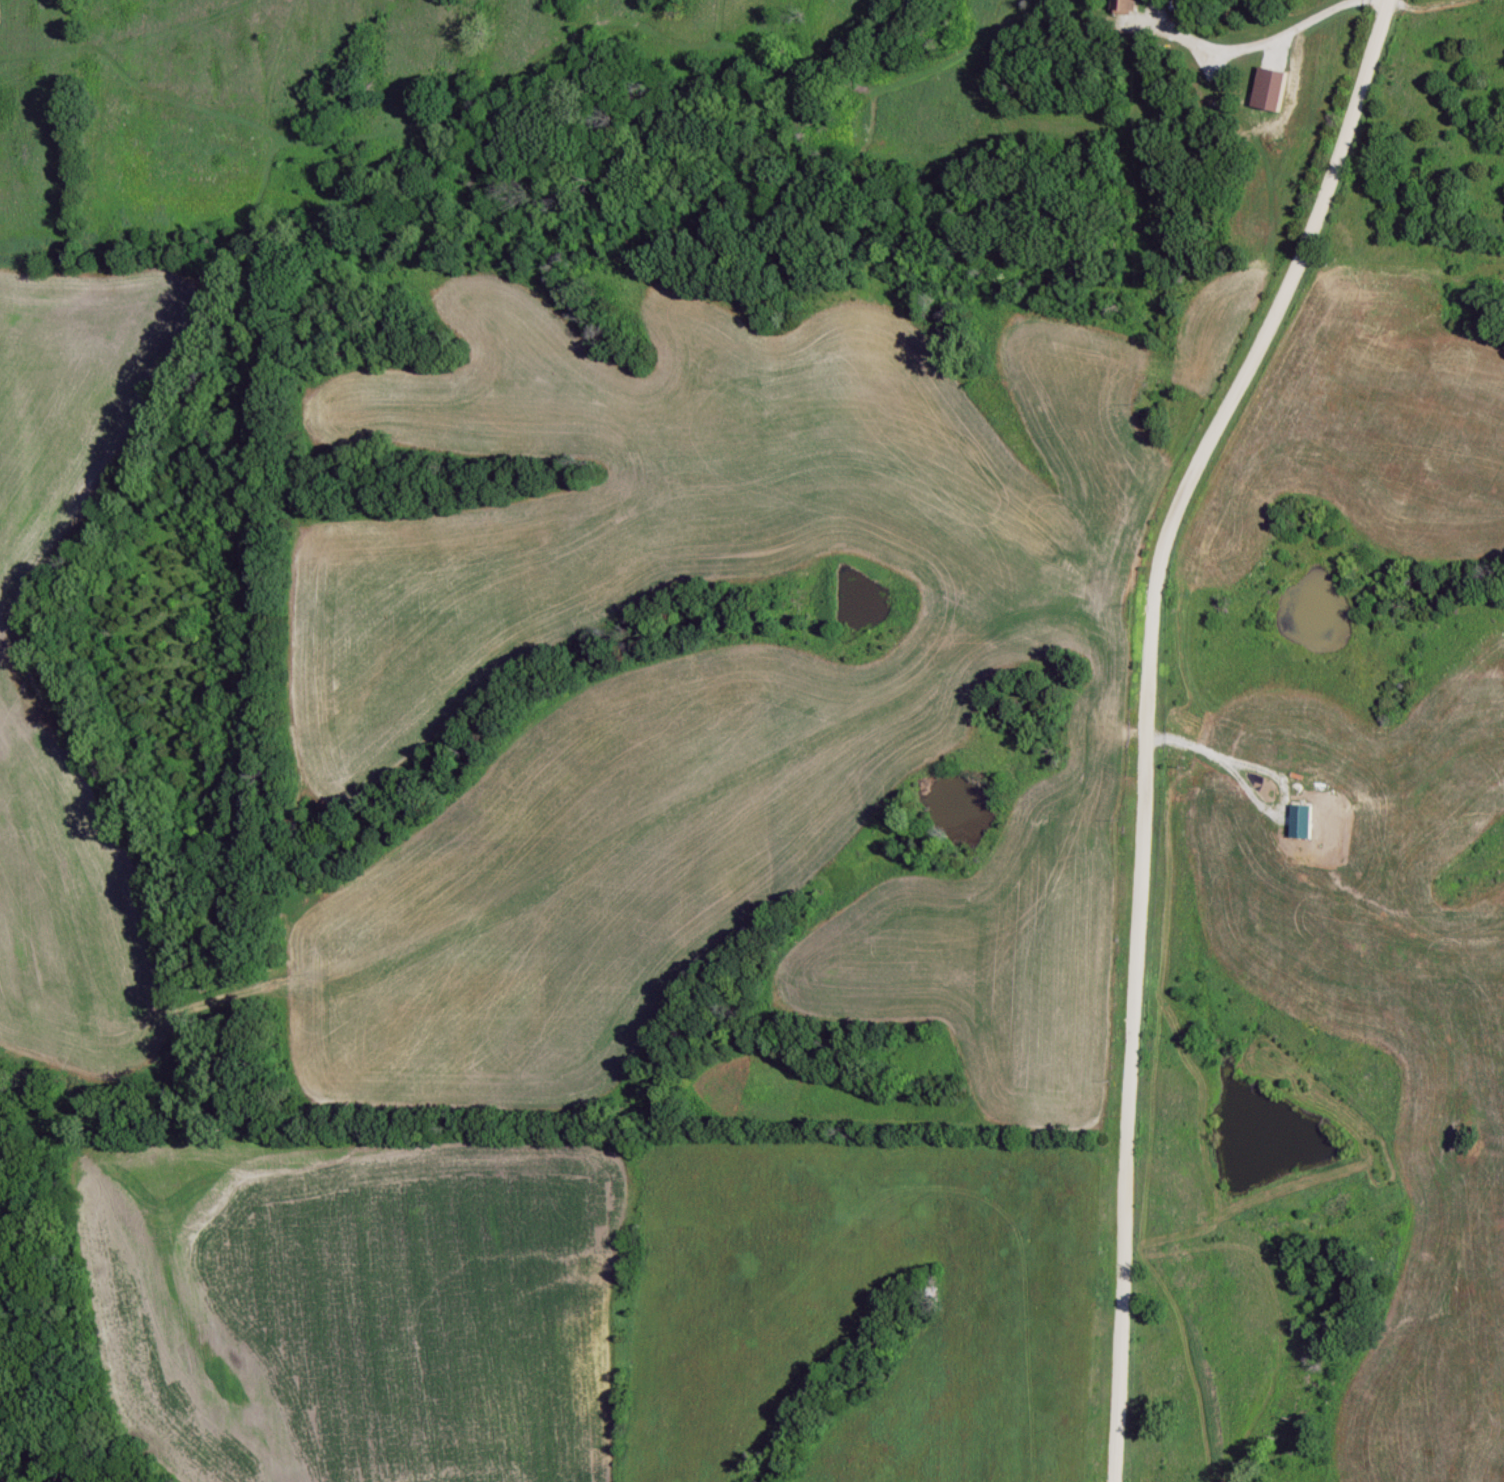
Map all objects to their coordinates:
building: (1125, 6)
road: (1147, 717)

